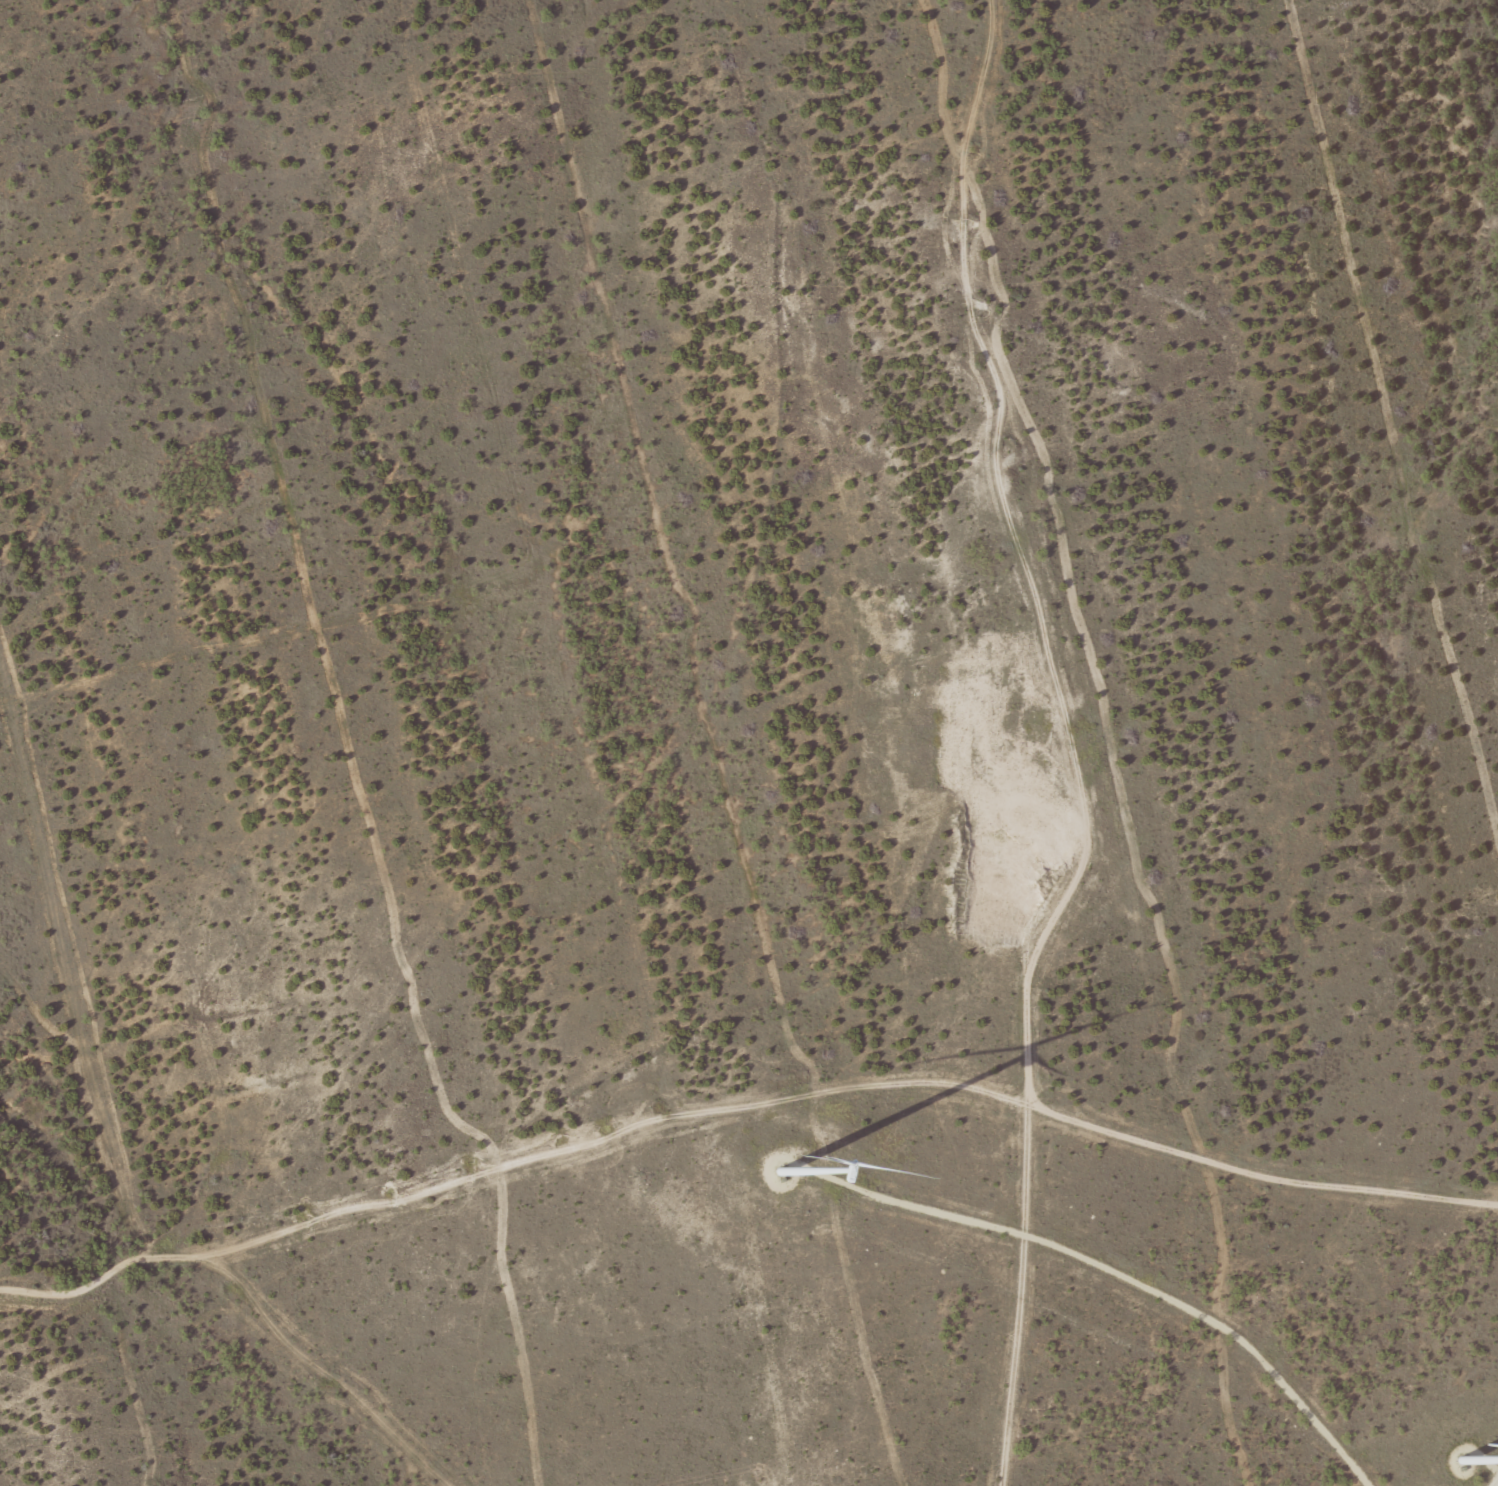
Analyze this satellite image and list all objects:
road: (729, 1102)
wind turbine: (798, 1174)
road: (1021, 1310)
road: (294, 1378)
wind turbine: (1455, 1468)
road: (1488, 1473)

